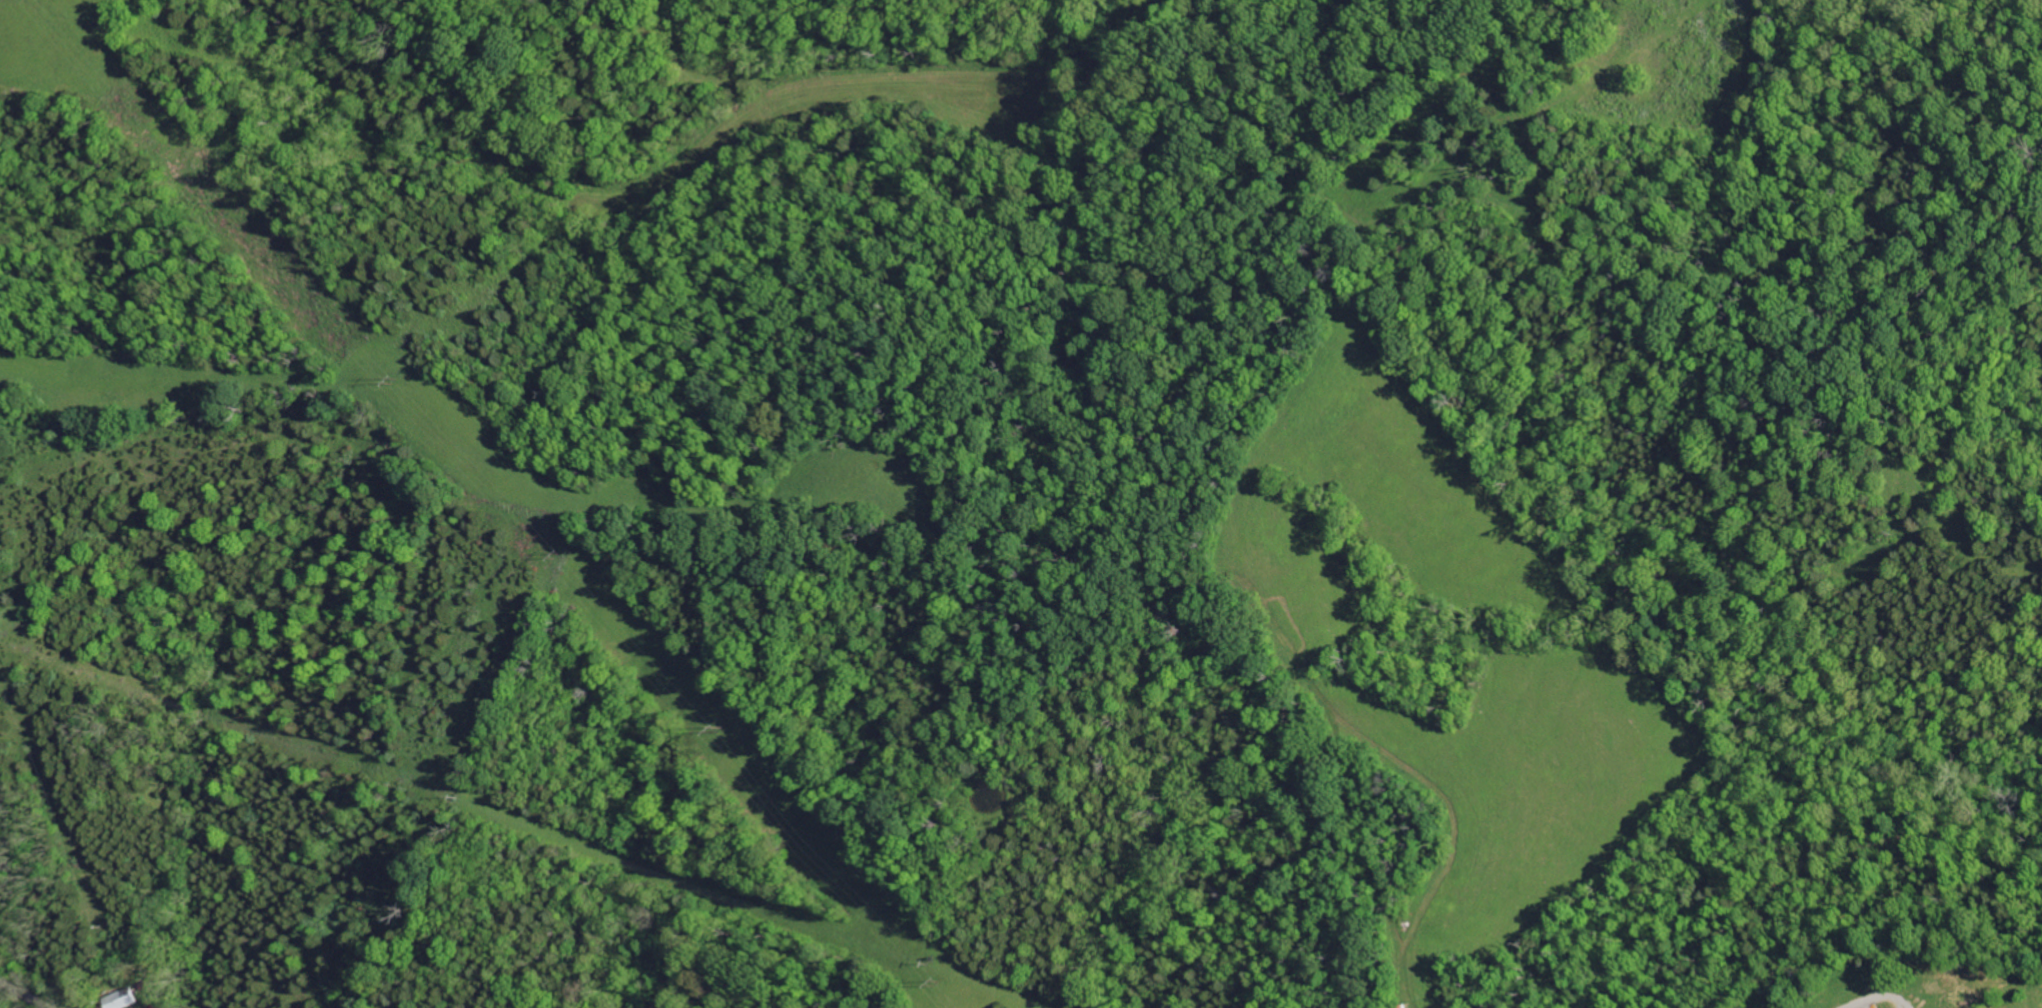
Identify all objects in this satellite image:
road: (21, 995)
building: (120, 999)
building: (1958, 999)

